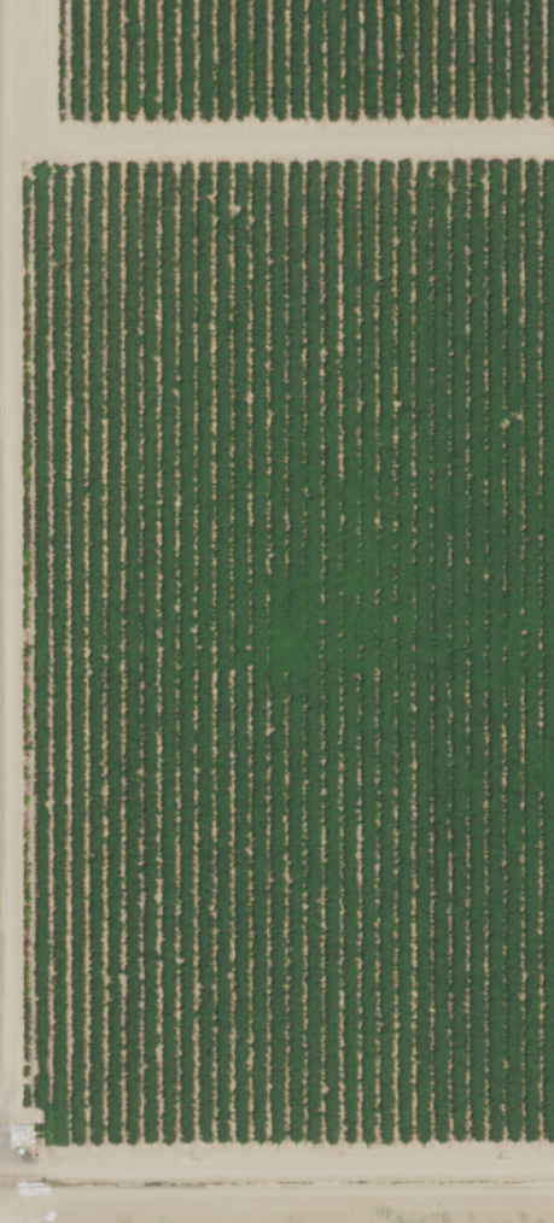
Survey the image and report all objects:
road: (276, 1180)
crop: (279, 1206)
crop: (0, 1212)

